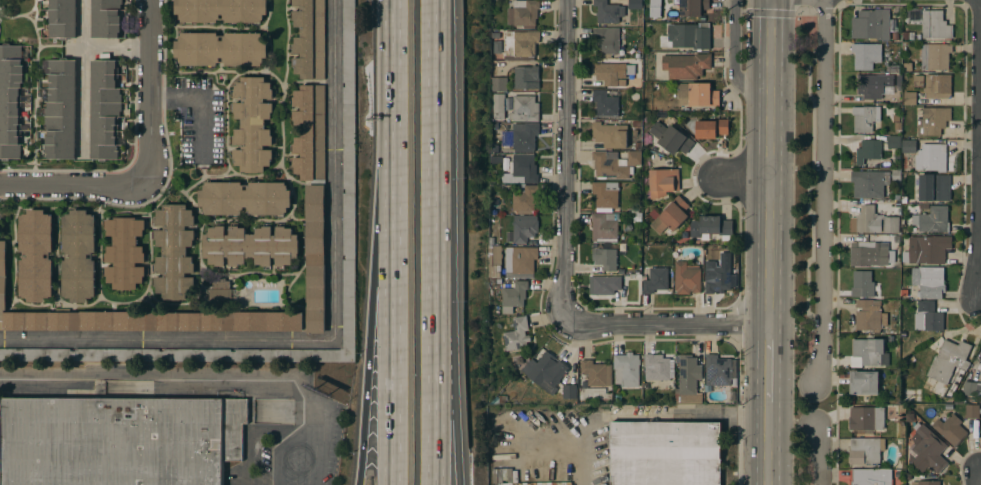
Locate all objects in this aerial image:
building: (635, 4)
building: (691, 7)
building: (220, 10)
building: (608, 11)
building: (523, 13)
building: (63, 18)
building: (106, 18)
building: (871, 24)
building: (935, 25)
building: (687, 35)
road: (395, 37)
building: (309, 38)
building: (606, 41)
building: (520, 44)
building: (221, 48)
building: (349, 51)
road: (110, 52)
building: (867, 54)
building: (935, 56)
road: (734, 57)
building: (686, 65)
building: (609, 72)
building: (526, 76)
building: (918, 80)
building: (499, 83)
building: (622, 83)
building: (873, 84)
building: (937, 86)
road: (86, 92)
road: (154, 93)
building: (697, 94)
building: (910, 97)
building: (11, 100)
building: (607, 102)
building: (498, 105)
road: (203, 108)
building: (524, 108)
building: (61, 109)
building: (105, 109)
building: (865, 117)
building: (933, 120)
building: (252, 123)
building: (709, 128)
building: (309, 131)
building: (610, 134)
building: (525, 136)
building: (671, 138)
building: (507, 139)
building: (894, 141)
building: (909, 145)
building: (349, 147)
building: (868, 150)
building: (931, 156)
road: (567, 160)
road: (771, 163)
building: (614, 164)
building: (524, 168)
road: (334, 171)
road: (742, 176)
building: (663, 181)
building: (868, 183)
road: (77, 185)
building: (934, 187)
road: (825, 191)
building: (605, 194)
building: (524, 197)
building: (245, 198)
building: (670, 215)
building: (934, 219)
building: (873, 221)
building: (349, 225)
building: (605, 226)
building: (711, 226)
building: (524, 230)
road: (437, 242)
road: (453, 242)
building: (250, 245)
building: (927, 249)
building: (174, 251)
building: (125, 252)
building: (869, 253)
building: (35, 255)
building: (79, 255)
building: (604, 256)
building: (315, 257)
building: (496, 260)
building: (520, 261)
building: (687, 277)
building: (717, 277)
road: (376, 279)
building: (656, 279)
road: (396, 280)
building: (929, 281)
building: (862, 283)
building: (606, 284)
road: (980, 288)
building: (513, 295)
building: (349, 304)
building: (929, 314)
building: (868, 315)
building: (142, 317)
road: (669, 326)
building: (517, 334)
road: (165, 340)
building: (869, 353)
building: (519, 361)
building: (950, 364)
building: (657, 366)
road: (771, 366)
building: (626, 368)
building: (718, 370)
building: (545, 371)
building: (596, 372)
building: (688, 380)
building: (863, 381)
road: (204, 383)
building: (971, 387)
building: (570, 391)
road: (645, 410)
building: (972, 411)
building: (866, 418)
building: (951, 429)
building: (980, 433)
road: (250, 436)
building: (120, 440)
road: (283, 443)
road: (771, 445)
building: (865, 450)
building: (928, 450)
building: (665, 453)
road: (820, 456)
building: (870, 476)
building: (926, 482)

